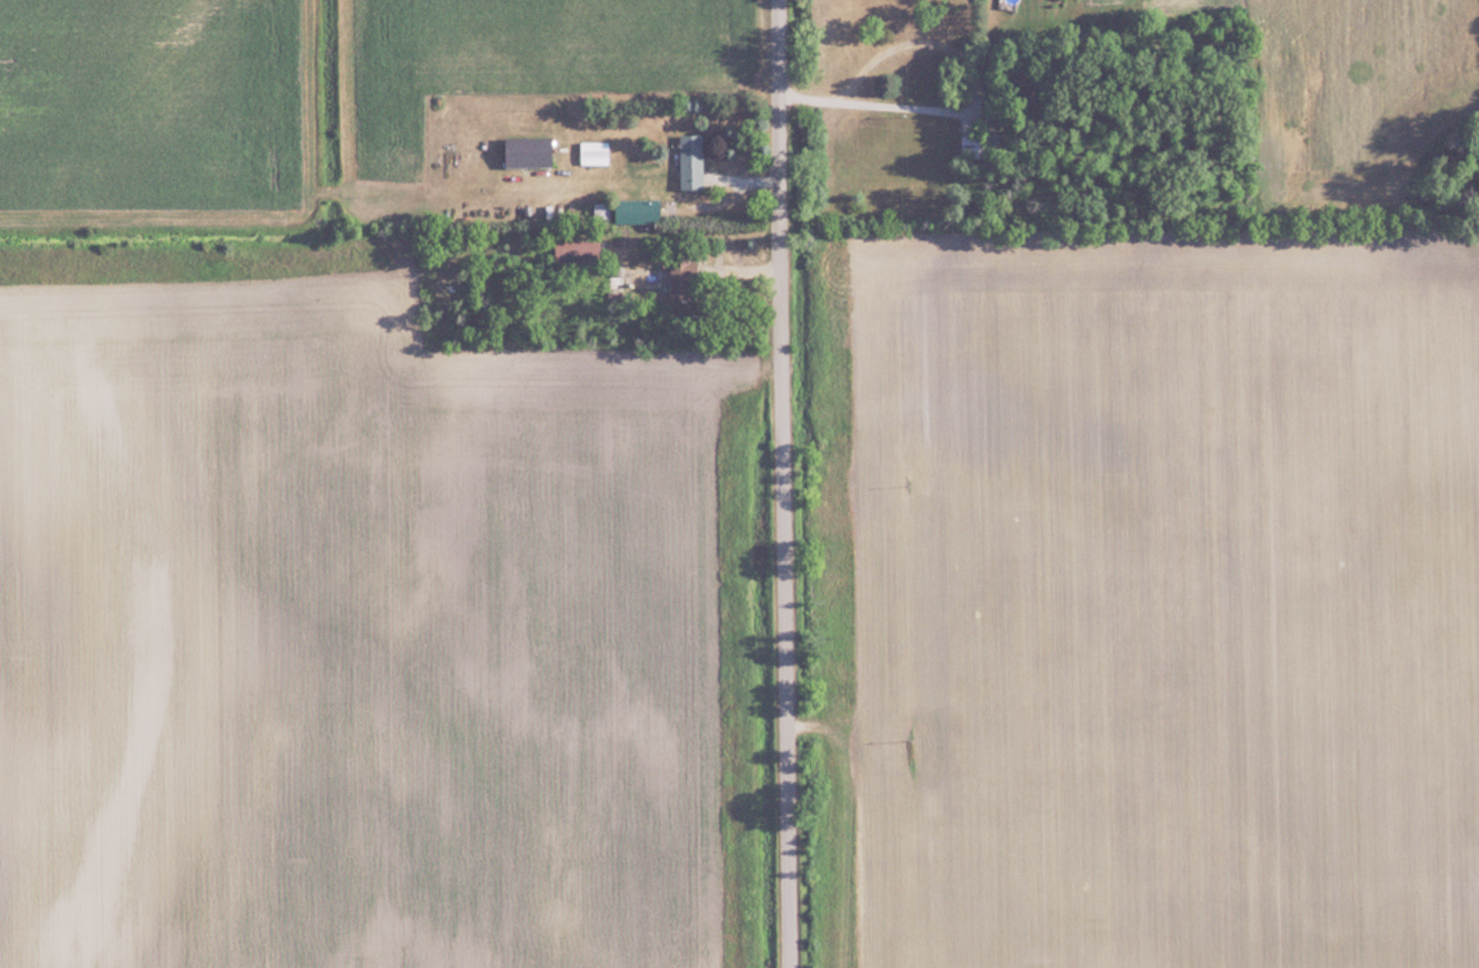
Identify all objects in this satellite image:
road: (873, 93)
building: (969, 146)
building: (529, 150)
building: (594, 151)
building: (691, 160)
building: (638, 210)
building: (679, 278)
road: (785, 484)

